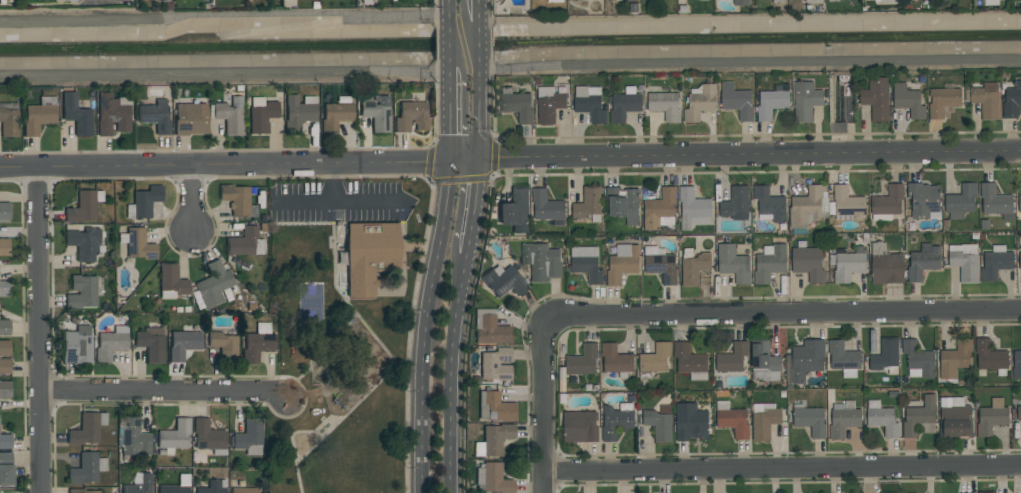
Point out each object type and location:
building: (70, 0)
building: (160, 0)
building: (555, 1)
building: (576, 1)
building: (778, 1)
building: (813, 1)
building: (741, 3)
road: (479, 10)
road: (510, 25)
road: (452, 34)
road: (480, 42)
building: (842, 76)
building: (876, 97)
building: (986, 99)
building: (805, 101)
building: (908, 101)
building: (942, 101)
building: (1012, 101)
building: (737, 102)
building: (700, 103)
building: (771, 104)
building: (842, 104)
building: (664, 105)
building: (517, 107)
building: (550, 107)
building: (624, 107)
building: (591, 108)
road: (480, 112)
building: (298, 113)
building: (377, 113)
road: (453, 114)
building: (77, 115)
building: (111, 115)
building: (230, 115)
building: (335, 115)
building: (155, 117)
building: (262, 117)
building: (411, 117)
building: (37, 118)
building: (189, 119)
building: (9, 123)
road: (510, 159)
road: (331, 182)
road: (196, 199)
building: (923, 199)
building: (962, 199)
building: (236, 200)
building: (994, 200)
building: (145, 201)
road: (340, 201)
building: (622, 201)
building: (888, 202)
building: (588, 203)
building: (1019, 203)
building: (736, 204)
building: (770, 204)
building: (848, 205)
building: (546, 206)
building: (806, 206)
building: (82, 208)
road: (473, 208)
building: (659, 208)
building: (693, 209)
building: (4, 211)
building: (515, 211)
building: (242, 242)
building: (83, 244)
building: (140, 245)
building: (4, 247)
building: (369, 256)
building: (1020, 261)
building: (541, 262)
building: (923, 262)
building: (808, 263)
building: (733, 264)
building: (770, 264)
building: (995, 264)
building: (964, 265)
building: (622, 266)
building: (848, 266)
building: (662, 267)
building: (694, 268)
building: (588, 269)
building: (887, 269)
building: (172, 280)
building: (505, 282)
building: (213, 283)
building: (4, 289)
building: (81, 292)
road: (784, 313)
road: (426, 325)
building: (5, 327)
park: (342, 328)
road: (39, 331)
building: (491, 331)
building: (151, 344)
building: (183, 344)
building: (109, 345)
building: (257, 345)
building: (224, 346)
building: (5, 348)
building: (76, 348)
road: (386, 350)
road: (345, 353)
building: (886, 355)
building: (843, 356)
building: (990, 356)
building: (733, 357)
building: (764, 357)
building: (655, 358)
building: (919, 358)
building: (615, 359)
building: (689, 359)
building: (807, 359)
building: (955, 359)
road: (317, 360)
building: (583, 361)
building: (496, 364)
building: (1017, 365)
building: (5, 366)
road: (452, 373)
building: (5, 389)
road: (162, 394)
building: (497, 407)
road: (543, 408)
building: (1019, 413)
building: (920, 418)
building: (810, 420)
building: (991, 420)
building: (883, 421)
building: (615, 422)
building: (690, 422)
building: (733, 422)
building: (843, 422)
building: (955, 422)
building: (765, 423)
building: (659, 425)
building: (580, 427)
building: (84, 430)
building: (248, 434)
building: (207, 435)
building: (174, 436)
building: (134, 438)
building: (496, 438)
building: (5, 441)
road: (313, 447)
road: (782, 466)
building: (84, 469)
building: (6, 470)
building: (495, 479)
building: (140, 484)
building: (212, 487)
building: (173, 489)
building: (244, 490)
building: (80, 491)
building: (987, 492)

